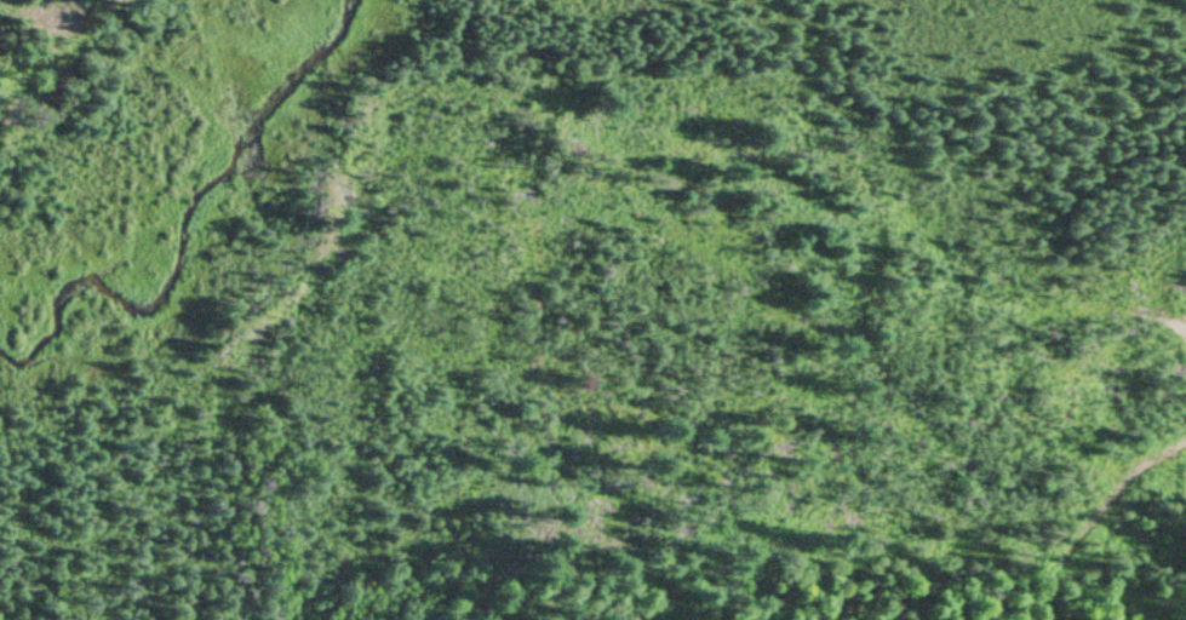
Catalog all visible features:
road: (1030, 492)

